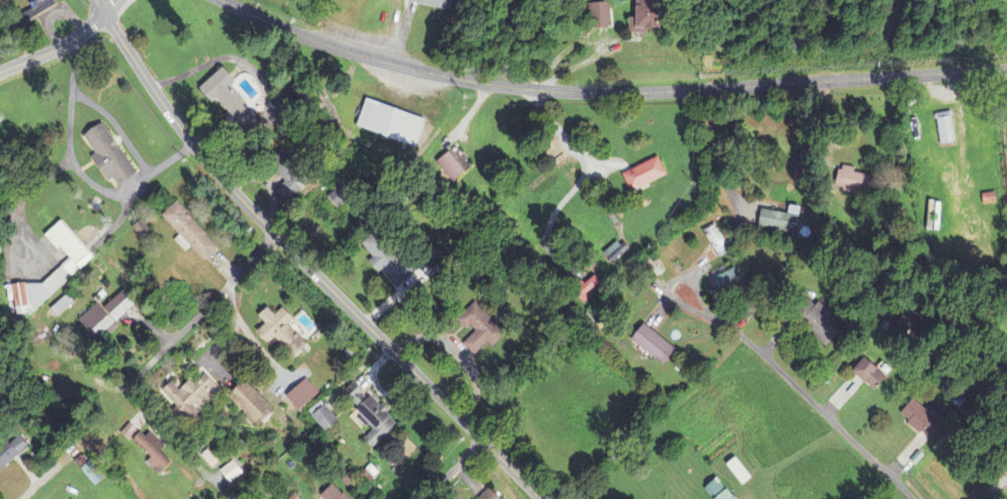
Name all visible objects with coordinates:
building: (424, 2)
road: (102, 7)
building: (600, 16)
building: (645, 20)
road: (64, 44)
road: (376, 57)
road: (769, 81)
building: (226, 91)
building: (394, 123)
road: (556, 126)
building: (947, 130)
building: (111, 156)
building: (455, 165)
building: (647, 174)
road: (551, 216)
building: (772, 219)
building: (143, 230)
building: (192, 233)
road: (281, 238)
building: (717, 242)
building: (617, 253)
building: (56, 271)
road: (179, 302)
road: (213, 307)
building: (108, 315)
building: (279, 327)
road: (207, 328)
building: (483, 333)
building: (657, 345)
building: (874, 374)
road: (814, 393)
building: (193, 394)
building: (361, 399)
road: (125, 413)
building: (917, 417)
building: (329, 421)
building: (378, 422)
building: (153, 451)
building: (12, 453)
road: (432, 469)
road: (512, 469)
building: (232, 472)
building: (742, 472)
road: (35, 486)
building: (720, 491)
building: (335, 494)
building: (493, 496)

